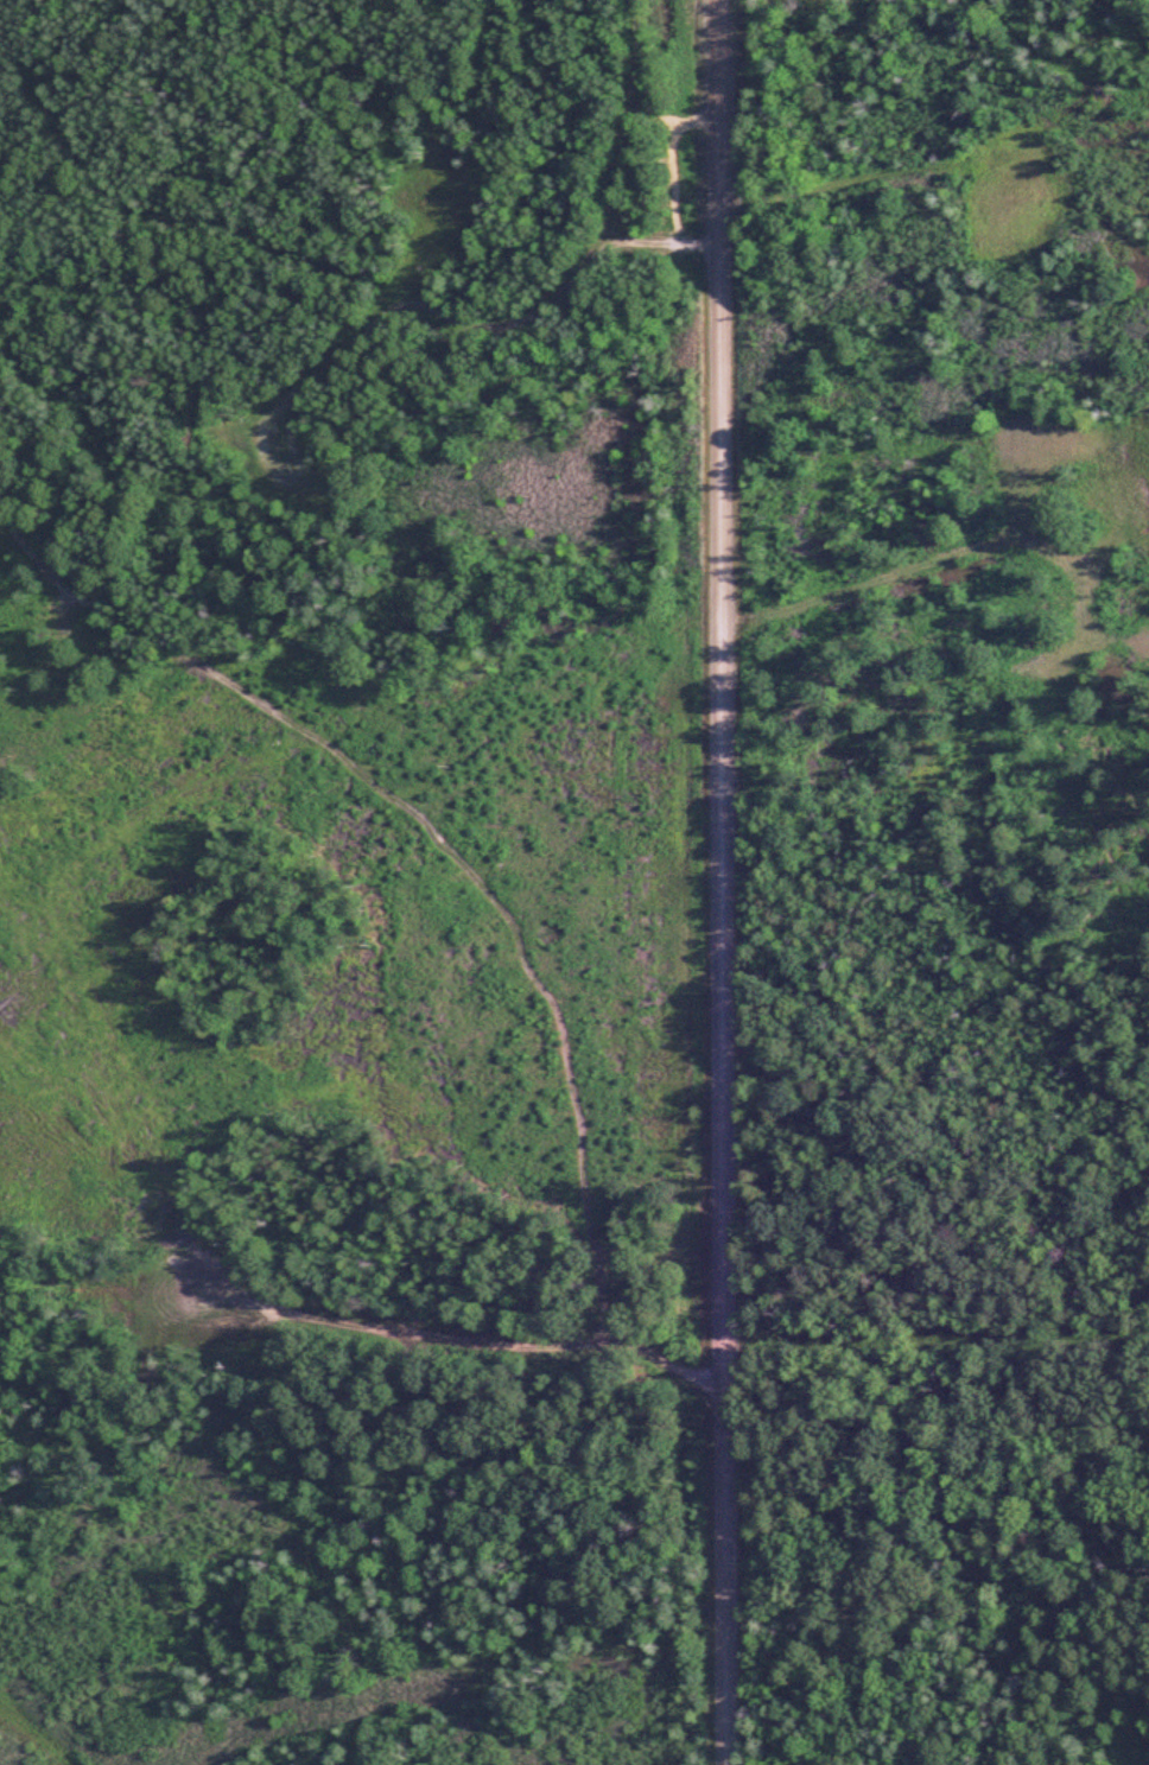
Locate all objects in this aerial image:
road: (725, 882)

